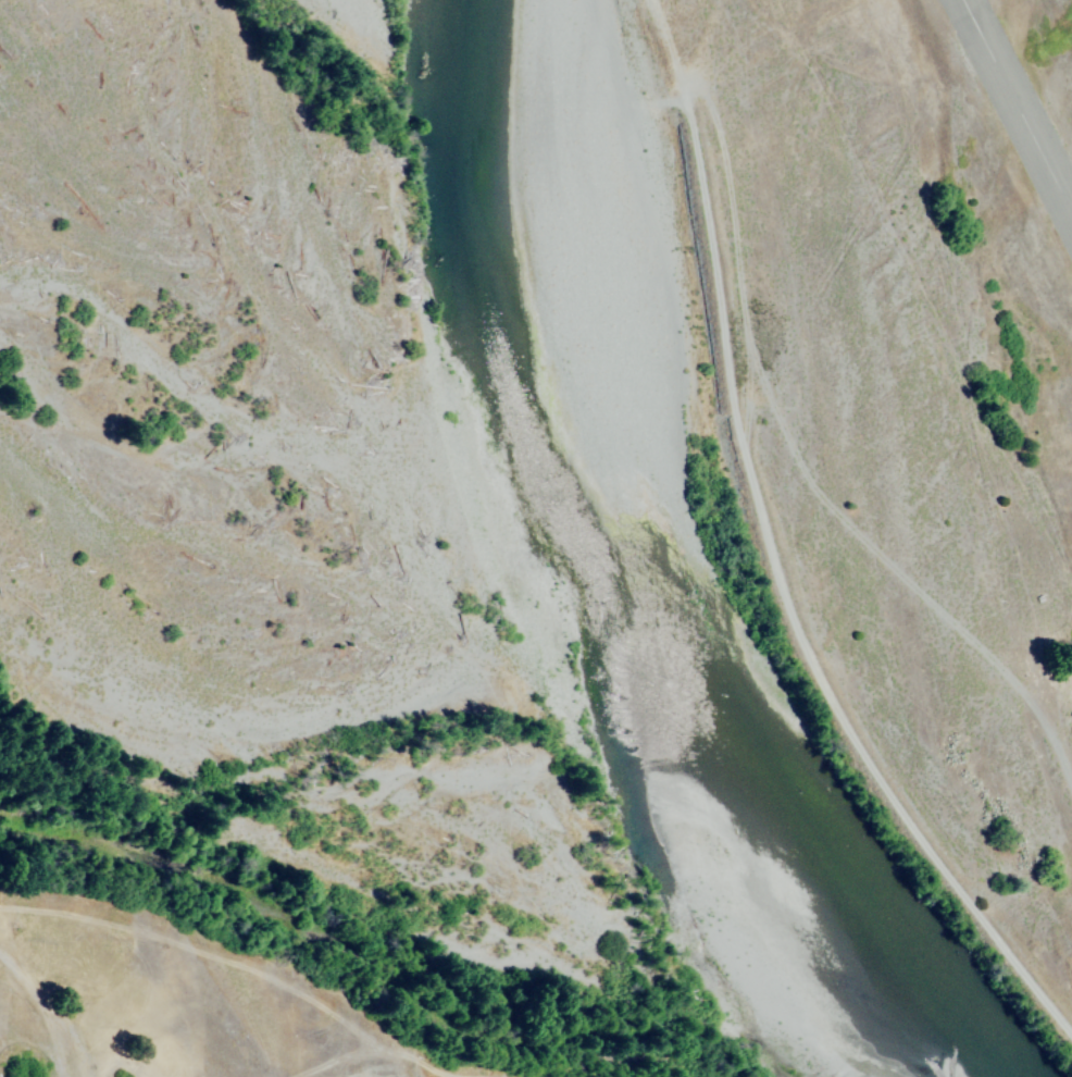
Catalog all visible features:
airport runway: (1019, 102)
road: (777, 547)
river: (356, 773)
river: (737, 1020)

